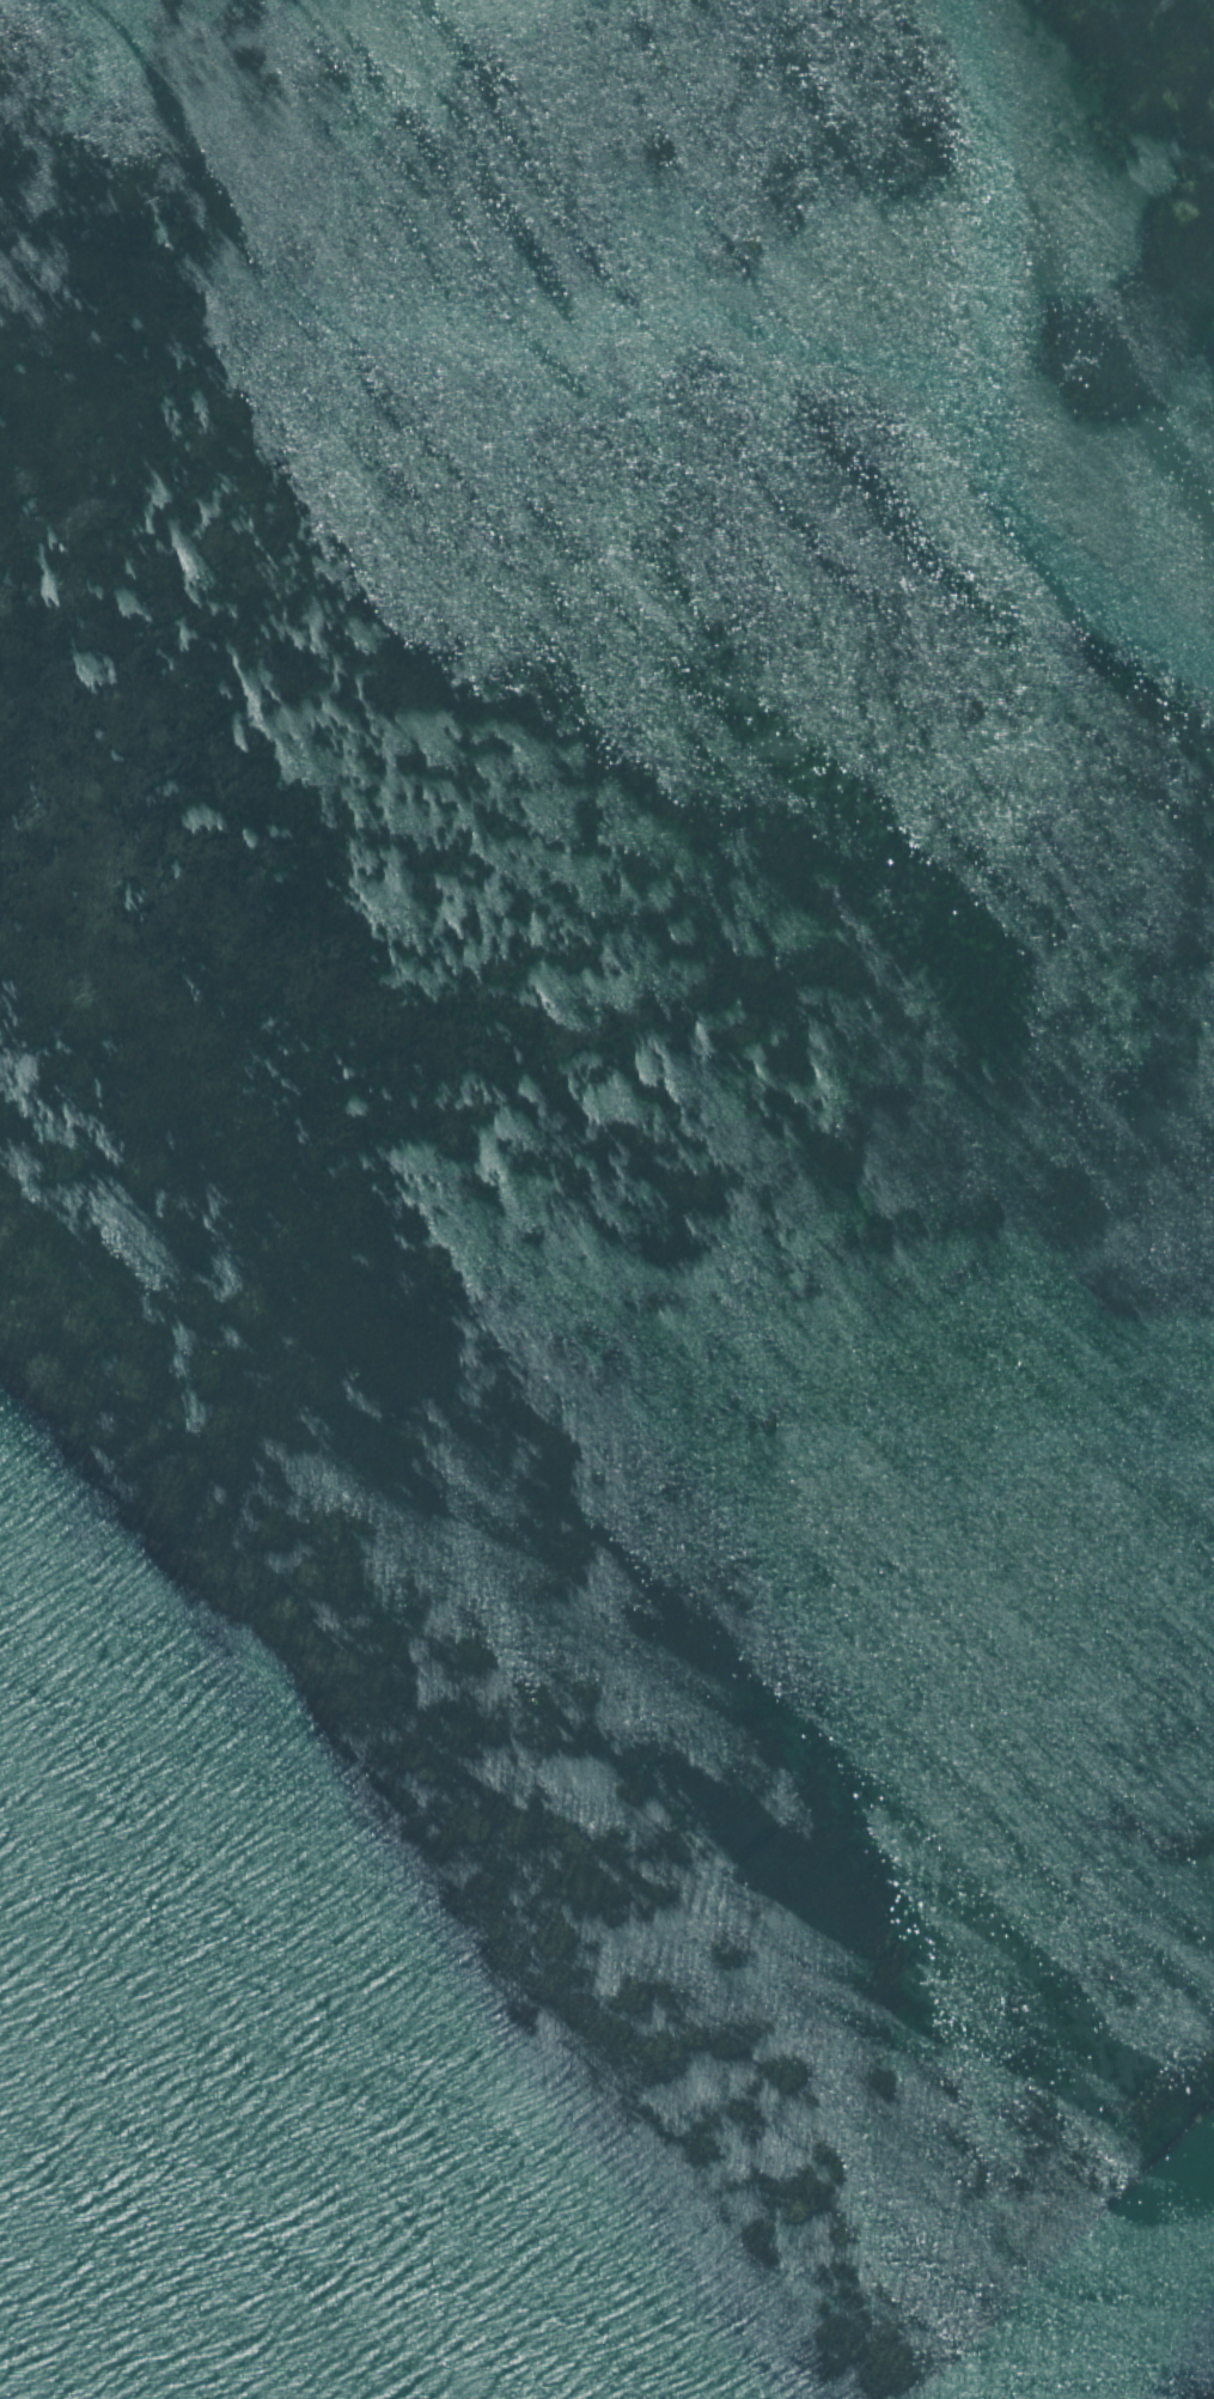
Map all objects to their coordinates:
river: (74, 2298)

